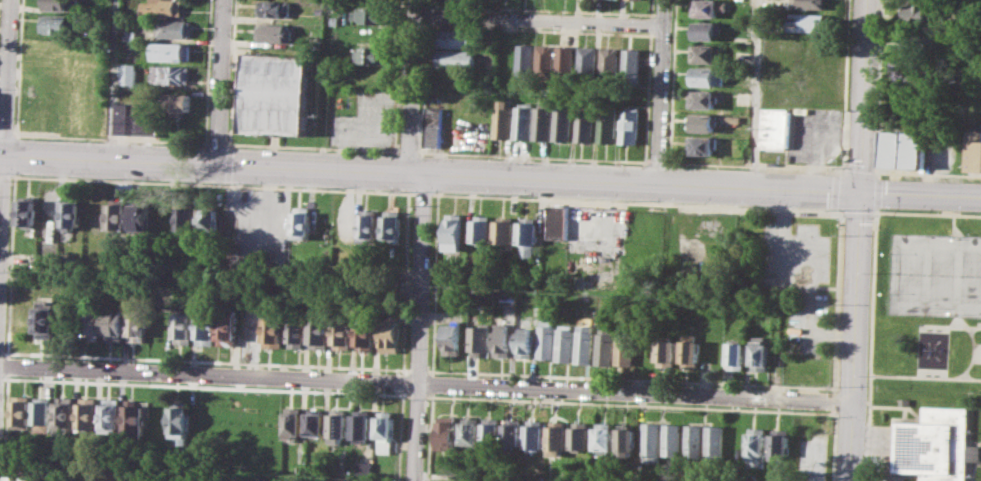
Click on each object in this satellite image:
building: (459, 1)
road: (428, 3)
building: (811, 3)
building: (59, 4)
building: (710, 7)
building: (162, 8)
road: (539, 8)
road: (651, 8)
building: (275, 9)
building: (921, 13)
road: (428, 14)
building: (374, 15)
road: (540, 19)
building: (811, 21)
building: (57, 23)
road: (650, 24)
building: (175, 29)
road: (539, 29)
building: (708, 29)
building: (275, 33)
building: (131, 36)
building: (459, 38)
building: (920, 42)
building: (172, 51)
building: (375, 54)
building: (706, 54)
building: (457, 58)
building: (526, 60)
building: (546, 61)
building: (586, 61)
building: (565, 62)
building: (609, 62)
building: (631, 65)
road: (18, 66)
road: (207, 71)
road: (232, 72)
building: (129, 74)
building: (172, 74)
building: (374, 74)
road: (398, 75)
building: (708, 76)
road: (6, 78)
road: (113, 80)
building: (337, 80)
road: (673, 81)
road: (846, 82)
road: (220, 83)
road: (412, 86)
road: (425, 86)
road: (661, 92)
building: (277, 93)
road: (758, 94)
road: (647, 96)
building: (96, 99)
building: (704, 99)
building: (179, 103)
building: (137, 118)
building: (503, 118)
building: (523, 120)
parking lot: (366, 121)
building: (703, 122)
building: (543, 123)
building: (563, 124)
building: (585, 125)
building: (629, 125)
building: (607, 126)
building: (434, 127)
building: (775, 127)
road: (6, 133)
parking lot: (813, 133)
road: (109, 137)
road: (218, 143)
building: (702, 144)
road: (314, 147)
building: (892, 148)
building: (913, 149)
building: (973, 150)
road: (409, 151)
road: (534, 156)
road: (657, 162)
road: (758, 166)
road: (861, 167)
road: (879, 170)
road: (837, 171)
road: (6, 175)
street lamp: (43, 175)
road: (490, 176)
street lamp: (12, 179)
road: (213, 184)
road: (836, 190)
traffic signals: (860, 192)
road: (878, 192)
road: (425, 193)
road: (634, 201)
road: (1, 203)
road: (878, 209)
building: (28, 211)
building: (117, 214)
road: (837, 214)
road: (929, 214)
building: (72, 215)
road: (859, 215)
road: (875, 215)
building: (141, 217)
building: (186, 220)
building: (209, 222)
building: (559, 222)
building: (303, 223)
road: (955, 224)
building: (369, 225)
building: (393, 226)
parking lot: (257, 227)
building: (483, 231)
building: (455, 232)
building: (507, 234)
building: (529, 237)
road: (858, 240)
road: (10, 265)
park: (910, 273)
park: (942, 274)
park: (971, 276)
street lamp: (8, 282)
road: (405, 283)
road: (435, 284)
building: (509, 298)
park: (925, 299)
building: (45, 322)
building: (116, 322)
building: (91, 323)
building: (137, 324)
building: (182, 327)
road: (418, 327)
road: (966, 327)
building: (205, 328)
building: (228, 328)
building: (274, 330)
building: (297, 333)
building: (319, 333)
building: (342, 333)
building: (364, 333)
building: (389, 334)
building: (452, 335)
building: (547, 338)
building: (502, 339)
building: (480, 340)
building: (524, 342)
building: (565, 343)
building: (606, 343)
building: (584, 344)
road: (975, 345)
road: (872, 346)
building: (626, 347)
building: (689, 350)
building: (666, 353)
building: (759, 353)
building: (735, 355)
road: (207, 360)
road: (7, 365)
road: (417, 369)
street lamp: (10, 375)
road: (926, 376)
road: (402, 381)
road: (426, 382)
road: (716, 382)
road: (432, 383)
road: (207, 386)
road: (834, 389)
road: (416, 395)
road: (833, 400)
building: (905, 401)
road: (664, 404)
building: (20, 409)
road: (831, 410)
building: (64, 413)
building: (86, 413)
building: (110, 414)
building: (42, 415)
building: (133, 417)
building: (292, 421)
building: (180, 422)
building: (315, 422)
building: (362, 424)
building: (338, 426)
road: (5, 427)
building: (385, 430)
building: (471, 430)
building: (492, 431)
building: (448, 432)
building: (514, 432)
building: (538, 434)
road: (400, 435)
building: (560, 435)
road: (430, 436)
building: (582, 436)
building: (605, 436)
road: (888, 439)
building: (673, 440)
building: (694, 441)
building: (652, 442)
building: (714, 442)
building: (627, 443)
building: (780, 444)
building: (937, 445)
building: (756, 447)
building: (364, 468)
building: (13, 477)
building: (31, 478)
building: (113, 480)

